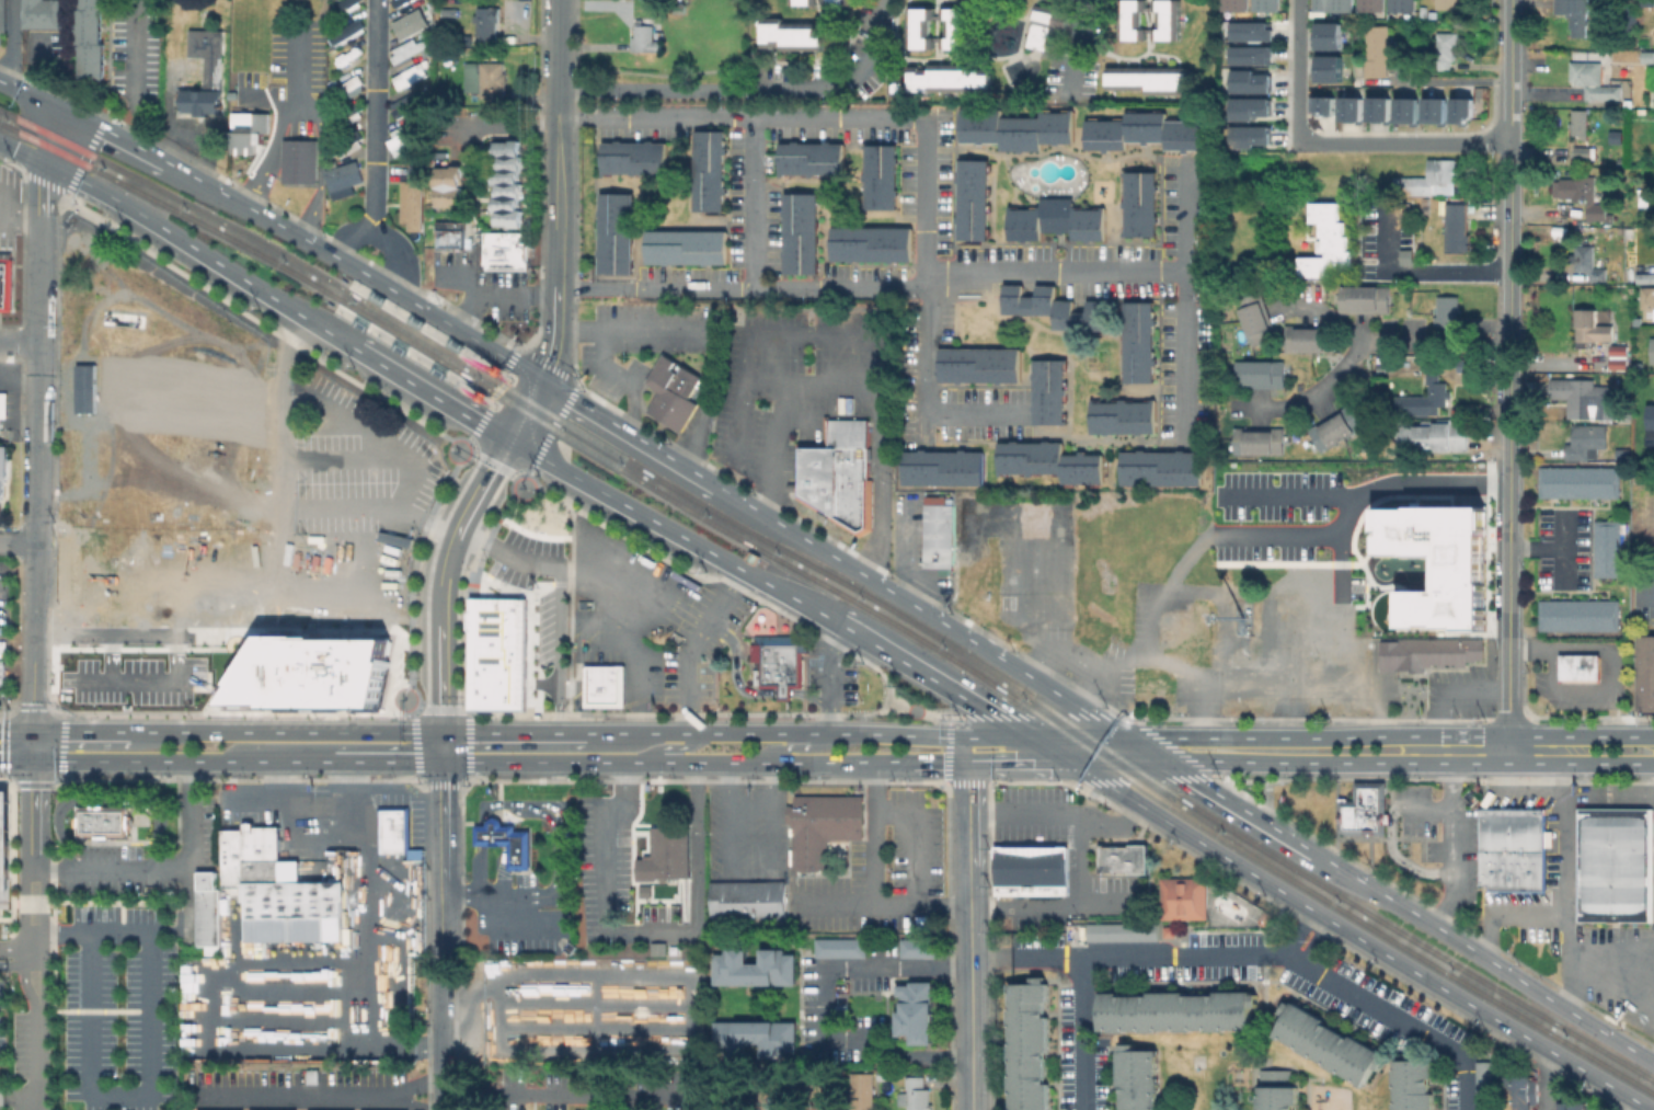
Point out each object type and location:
building: (401, 2)
building: (653, 2)
building: (815, 2)
building: (1239, 4)
building: (1268, 4)
building: (1337, 4)
building: (1375, 4)
building: (1448, 4)
building: (1405, 5)
building: (348, 7)
building: (680, 9)
building: (42, 13)
building: (1130, 19)
building: (1578, 22)
building: (409, 23)
building: (3, 24)
building: (487, 24)
building: (1041, 28)
building: (349, 33)
building: (1254, 33)
building: (790, 36)
building: (1334, 37)
building: (89, 38)
building: (464, 38)
road: (1511, 38)
building: (646, 39)
road: (12, 42)
building: (961, 43)
building: (176, 44)
road: (1077, 45)
building: (1446, 49)
building: (412, 50)
building: (1378, 50)
building: (1254, 56)
road: (1299, 70)
building: (1333, 70)
building: (205, 72)
road: (136, 75)
building: (407, 76)
building: (487, 78)
building: (1147, 81)
building: (1251, 81)
building: (1590, 81)
building: (347, 89)
road: (746, 89)
road: (32, 95)
building: (410, 105)
building: (1326, 105)
road: (312, 108)
building: (1254, 110)
building: (1382, 110)
road: (1511, 110)
traffic signals: (65, 111)
building: (1409, 111)
building: (1354, 112)
building: (1438, 112)
building: (1465, 112)
railway: (7, 113)
road: (654, 114)
building: (355, 115)
road: (374, 115)
building: (1580, 123)
road: (510, 125)
railway: (8, 127)
building: (1016, 129)
building: (246, 130)
building: (1144, 131)
railway: (54, 135)
road: (51, 136)
building: (1254, 138)
building: (404, 139)
road: (1404, 141)
building: (346, 147)
railway: (53, 149)
building: (1584, 151)
road: (22, 153)
building: (632, 157)
building: (809, 158)
building: (297, 160)
traffic signals: (44, 163)
building: (420, 169)
building: (708, 171)
road: (77, 172)
building: (880, 176)
building: (345, 178)
building: (1431, 181)
building: (508, 183)
building: (450, 188)
building: (1585, 196)
building: (972, 199)
road: (751, 202)
building: (413, 203)
building: (1138, 203)
railway: (219, 220)
building: (1055, 220)
road: (556, 225)
road: (923, 225)
building: (1455, 228)
railway: (215, 230)
building: (614, 232)
building: (800, 232)
road: (170, 233)
building: (455, 234)
road: (347, 236)
building: (1325, 241)
building: (871, 243)
building: (685, 247)
building: (507, 251)
road: (39, 252)
road: (400, 256)
building: (1588, 263)
road: (1418, 267)
road: (966, 272)
building: (1645, 277)
building: (7, 284)
road: (653, 288)
road: (496, 289)
building: (1652, 298)
building: (1362, 299)
road: (1509, 302)
road: (1185, 304)
building: (1054, 307)
building: (1445, 310)
railway: (331, 311)
road: (1323, 311)
building: (1254, 323)
building: (1592, 330)
railway: (420, 334)
building: (1303, 339)
road: (1368, 340)
building: (1138, 342)
road: (19, 343)
railway: (414, 344)
building: (1618, 350)
building: (1653, 351)
road: (711, 352)
railway: (484, 358)
building: (1619, 362)
building: (977, 364)
building: (1467, 364)
road: (549, 365)
road: (391, 366)
road: (492, 369)
road: (606, 370)
building: (1256, 373)
road: (7, 376)
road: (25, 377)
traffic signals: (537, 381)
road: (36, 391)
building: (675, 391)
building: (1047, 391)
road: (495, 393)
road: (478, 396)
building: (1585, 397)
building: (1426, 398)
building: (3, 407)
road: (789, 413)
building: (1122, 416)
railway: (559, 420)
road: (552, 428)
building: (1652, 428)
railway: (553, 431)
road: (616, 431)
building: (1330, 431)
building: (1436, 437)
traffic signals: (507, 438)
building: (1585, 439)
building: (1256, 440)
road: (256, 453)
building: (1624, 455)
building: (1048, 461)
road: (492, 464)
building: (941, 467)
building: (853, 468)
building: (1160, 468)
building: (822, 476)
building: (2, 480)
road: (877, 482)
building: (1581, 482)
road: (1290, 495)
road: (613, 501)
road: (1336, 530)
road: (16, 542)
road: (1550, 547)
building: (1608, 548)
road: (1508, 550)
road: (901, 551)
building: (961, 560)
building: (1011, 563)
road: (1562, 563)
building: (1057, 567)
building: (1435, 570)
railway: (829, 574)
road: (444, 577)
road: (717, 577)
railway: (819, 582)
building: (1294, 582)
road: (33, 586)
road: (1645, 594)
road: (559, 595)
road: (570, 610)
building: (1057, 610)
building: (1580, 614)
building: (1093, 630)
road: (176, 639)
road: (692, 645)
road: (1600, 646)
building: (1264, 650)
road: (887, 652)
building: (1319, 652)
building: (495, 653)
building: (1428, 655)
building: (781, 661)
road: (1174, 661)
building: (1581, 666)
road: (1107, 671)
building: (1645, 672)
road: (829, 677)
building: (604, 685)
building: (1155, 685)
road: (1559, 688)
building: (1360, 700)
road: (1507, 700)
road: (456, 709)
road: (919, 713)
road: (681, 714)
road: (1042, 716)
road: (15, 732)
traffic signals: (32, 732)
road: (80, 732)
road: (285, 732)
traffic signals: (443, 733)
road: (513, 733)
road: (806, 734)
road: (1580, 735)
road: (468, 739)
traffic signals: (1030, 739)
traffic signals: (1126, 739)
road: (1268, 739)
railway: (1102, 745)
road: (32, 746)
road: (443, 747)
road: (668, 748)
road: (806, 748)
road: (1046, 748)
road: (947, 749)
road: (1176, 749)
railway: (1091, 752)
traffic signals: (1064, 759)
road: (1113, 759)
traffic signals: (968, 760)
traffic signals: (1162, 760)
traffic signals: (33, 762)
road: (1296, 762)
traffic signals: (443, 763)
road: (531, 763)
road: (1500, 763)
road: (1610, 764)
road: (1436, 778)
road: (1149, 779)
road: (1036, 781)
road: (968, 782)
road: (1521, 787)
road: (1268, 794)
road: (106, 799)
road: (491, 803)
road: (1237, 806)
road: (527, 808)
road: (1427, 809)
building: (1365, 810)
road: (559, 811)
road: (32, 814)
road: (509, 814)
road: (1339, 814)
road: (1058, 817)
road: (548, 820)
building: (102, 821)
building: (824, 826)
building: (393, 827)
road: (505, 834)
road: (874, 834)
road: (481, 835)
road: (916, 838)
road: (320, 840)
building: (504, 840)
road: (1450, 846)
building: (3, 847)
building: (1514, 849)
building: (667, 854)
building: (1125, 858)
building: (1033, 866)
building: (1616, 866)
road: (160, 867)
road: (443, 869)
road: (480, 869)
road: (502, 869)
road: (556, 872)
road: (750, 874)
road: (1564, 885)
building: (275, 888)
road: (489, 894)
building: (1185, 897)
building: (749, 901)
road: (23, 906)
road: (1068, 906)
road: (884, 907)
building: (206, 909)
road: (1436, 912)
road: (1508, 913)
building: (1115, 930)
building: (1170, 931)
road: (646, 932)
road: (1299, 934)
road: (146, 935)
road: (969, 935)
road: (1355, 937)
road: (43, 938)
railway: (1412, 939)
road: (1316, 943)
building: (840, 948)
road: (11, 949)
building: (917, 949)
railway: (1409, 950)
road: (357, 955)
road: (23, 957)
road: (1184, 957)
road: (1483, 957)
road: (1026, 958)
road: (11, 965)
building: (756, 969)
road: (1610, 972)
building: (1219, 973)
building: (1140, 974)
building: (1372, 984)
road: (24, 988)
road: (687, 998)
road: (817, 1002)
building: (918, 1009)
building: (1179, 1011)
building: (1353, 1015)
road: (1398, 1020)
building: (1447, 1029)
road: (1084, 1033)
building: (757, 1038)
building: (1068, 1041)
road: (440, 1042)
building: (1329, 1043)
road: (421, 1044)
building: (1031, 1048)
road: (35, 1067)
building: (1103, 1073)
building: (885, 1075)
building: (1139, 1078)
road: (1544, 1079)
building: (1414, 1084)
building: (1489, 1086)
building: (813, 1087)
building: (859, 1090)
building: (768, 1091)
building: (1278, 1091)
building: (1518, 1092)
road: (443, 1094)
building: (917, 1094)
road: (115, 1097)
road: (1622, 1102)
building: (1572, 1106)

